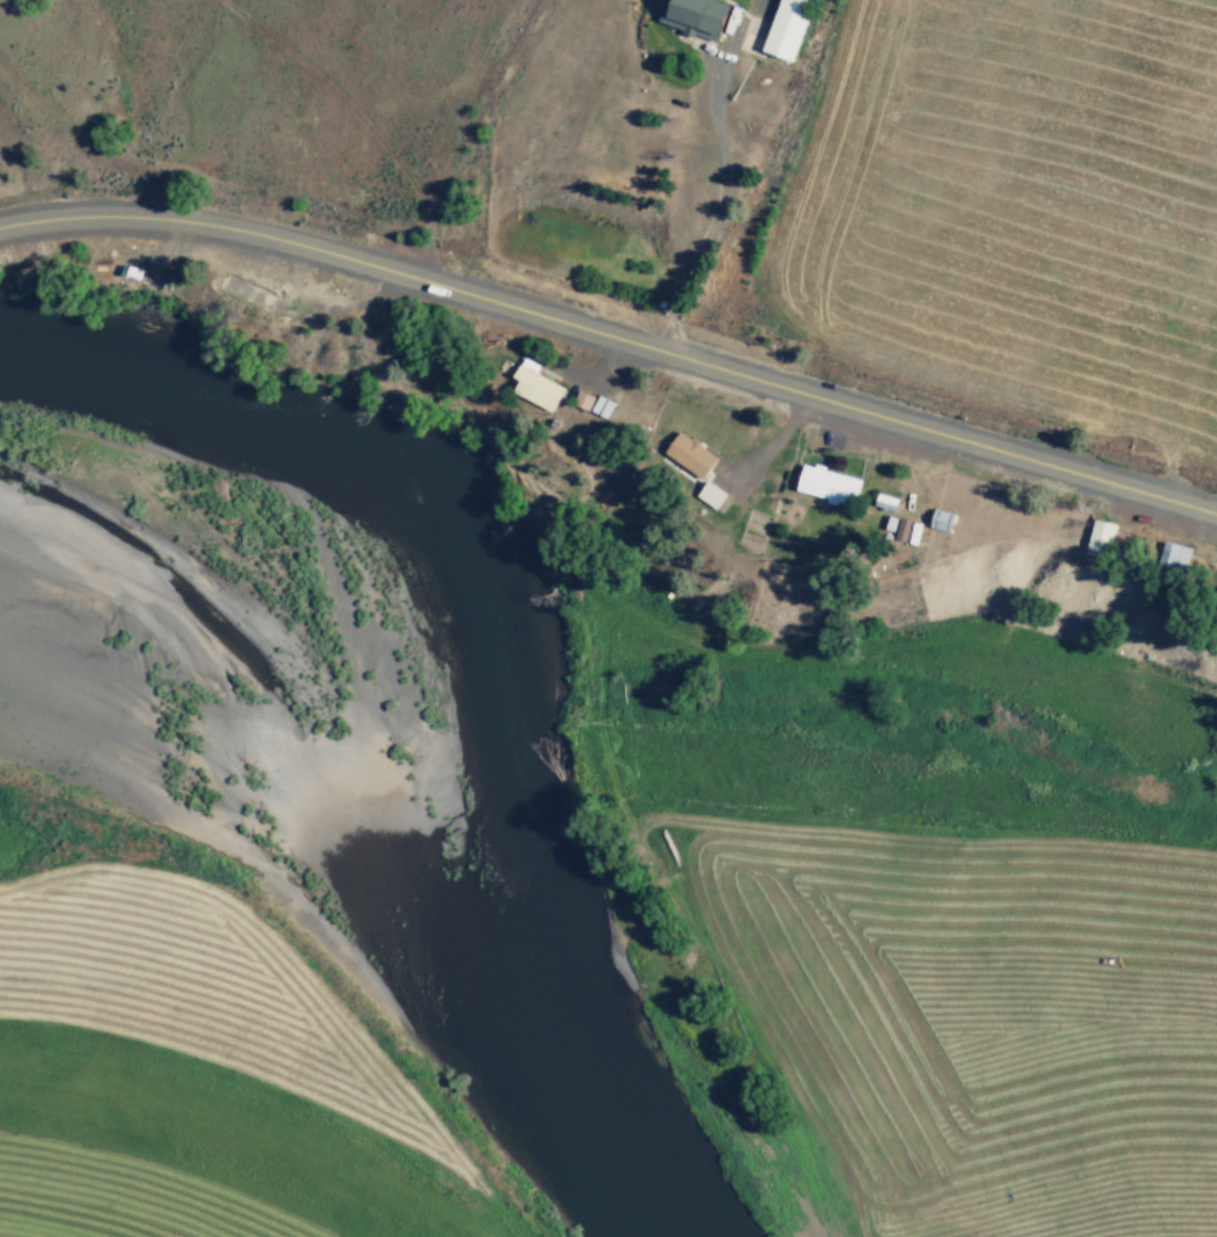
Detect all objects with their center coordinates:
building: (695, 15)
building: (788, 27)
road: (611, 348)
building: (536, 382)
building: (690, 451)
building: (829, 481)
building: (712, 491)
building: (941, 517)
building: (1102, 534)
building: (1181, 554)
river: (440, 805)

